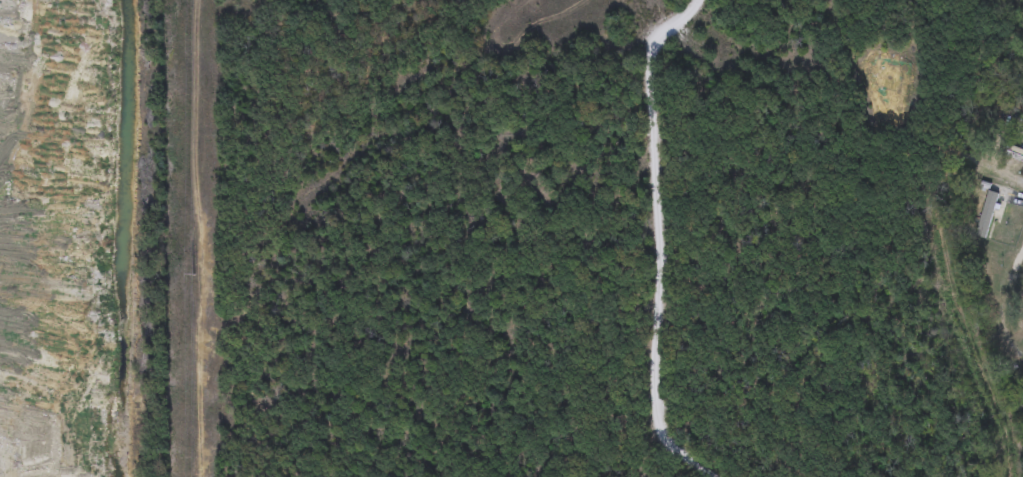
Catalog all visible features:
building: (986, 214)
road: (1003, 308)
building: (1020, 319)

